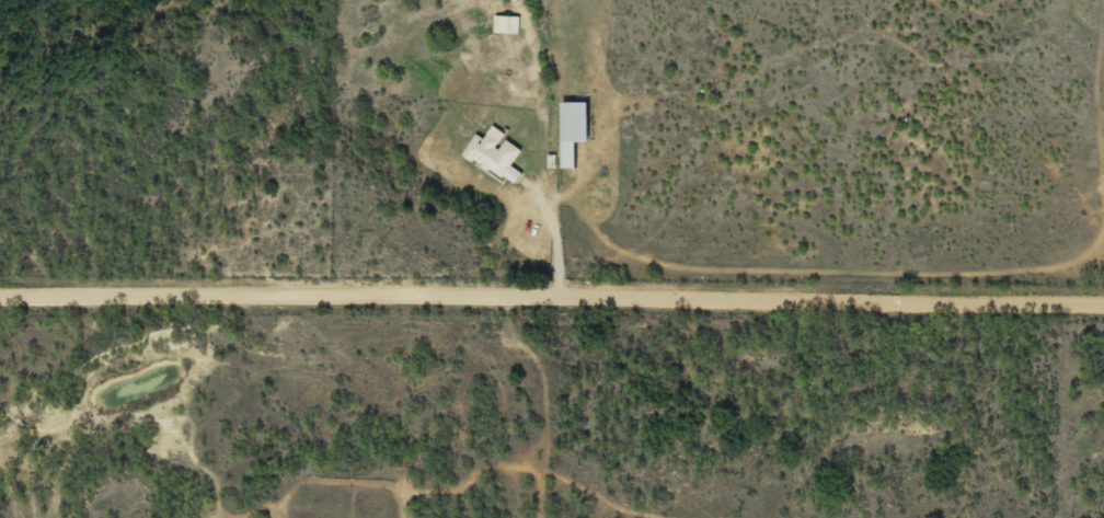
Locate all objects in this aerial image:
building: (502, 24)
building: (573, 124)
building: (491, 162)
road: (556, 238)
road: (552, 292)

